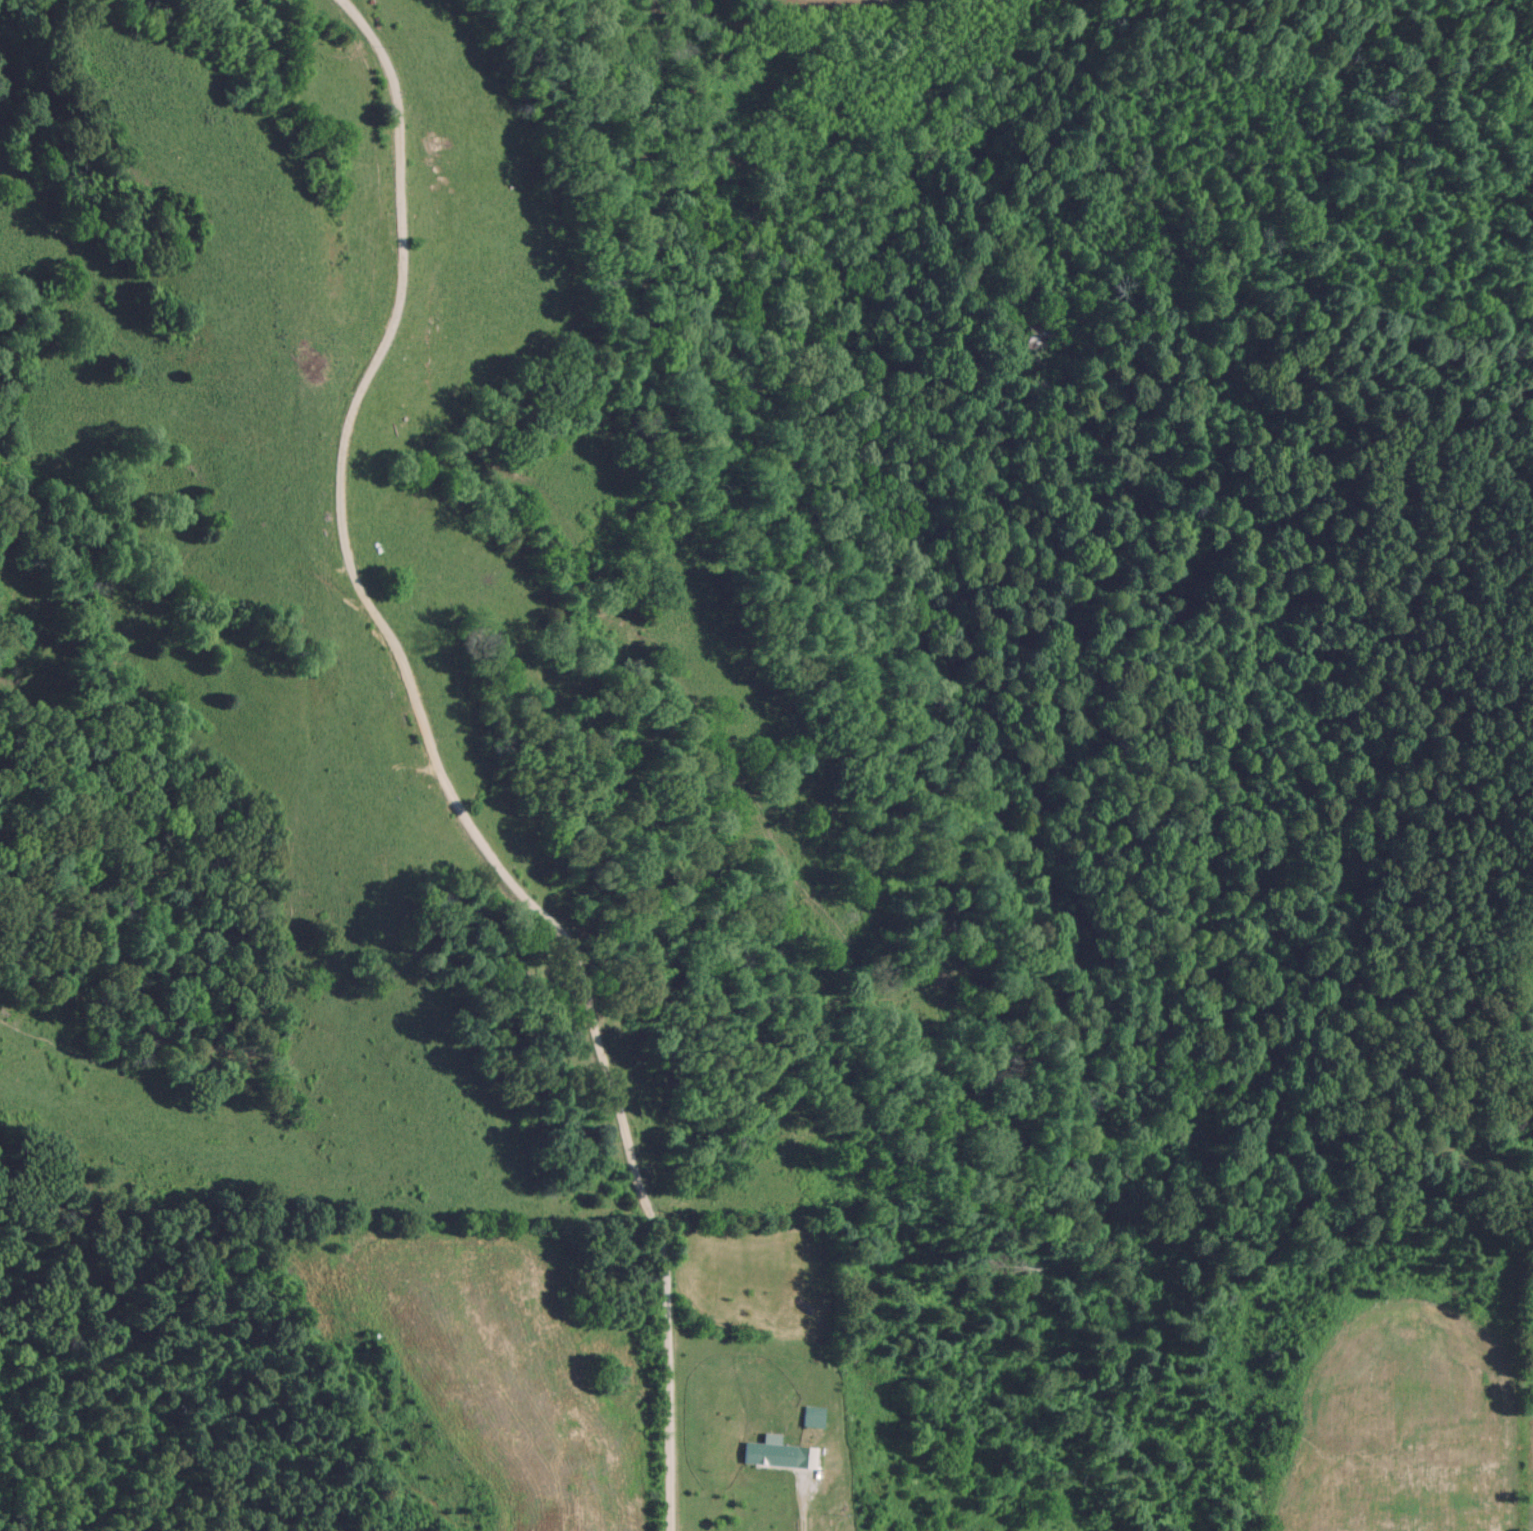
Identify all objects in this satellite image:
river: (657, 13)
road: (439, 771)
building: (806, 1415)
building: (767, 1453)

